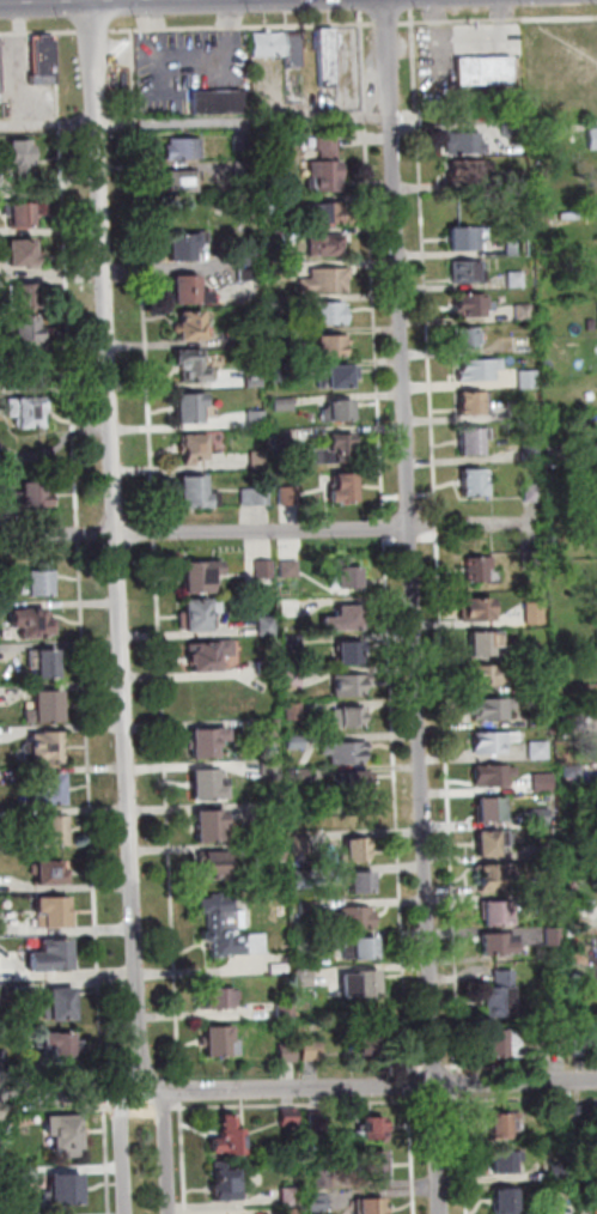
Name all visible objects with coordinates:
road: (413, 4)
road: (363, 5)
road: (497, 19)
road: (388, 23)
road: (244, 25)
road: (96, 30)
road: (39, 31)
building: (264, 43)
building: (290, 48)
building: (324, 56)
building: (45, 60)
road: (23, 62)
building: (1, 69)
building: (482, 69)
road: (136, 80)
building: (215, 99)
road: (49, 123)
building: (508, 129)
building: (544, 132)
building: (591, 138)
building: (240, 141)
building: (459, 141)
building: (325, 144)
building: (181, 148)
building: (24, 156)
building: (240, 169)
building: (470, 169)
building: (325, 174)
building: (514, 177)
building: (178, 180)
building: (270, 205)
building: (323, 211)
building: (23, 213)
building: (573, 216)
building: (270, 237)
building: (457, 237)
building: (181, 244)
building: (325, 244)
building: (517, 247)
building: (25, 251)
building: (245, 255)
road: (373, 265)
road: (426, 266)
building: (464, 269)
building: (276, 272)
building: (245, 274)
building: (513, 277)
road: (68, 278)
building: (323, 279)
building: (184, 287)
building: (24, 295)
building: (471, 304)
building: (275, 305)
building: (522, 310)
building: (327, 312)
building: (188, 326)
building: (26, 328)
road: (148, 329)
building: (251, 334)
building: (464, 336)
building: (279, 339)
building: (329, 346)
building: (188, 364)
building: (30, 369)
building: (476, 369)
building: (276, 372)
building: (336, 376)
building: (251, 377)
building: (530, 378)
building: (468, 401)
building: (280, 402)
building: (189, 406)
building: (30, 409)
building: (339, 409)
building: (254, 419)
building: (573, 420)
building: (596, 424)
building: (280, 436)
building: (468, 442)
building: (195, 448)
building: (334, 449)
building: (532, 451)
building: (553, 451)
building: (256, 461)
building: (473, 480)
building: (342, 485)
building: (194, 491)
building: (287, 493)
building: (529, 493)
building: (37, 494)
building: (252, 494)
road: (467, 524)
road: (386, 527)
road: (206, 532)
road: (80, 533)
road: (158, 533)
road: (117, 546)
building: (530, 558)
building: (266, 567)
building: (292, 567)
building: (476, 567)
building: (345, 573)
building: (196, 576)
building: (41, 579)
building: (290, 606)
road: (415, 607)
building: (477, 607)
building: (531, 611)
building: (194, 613)
building: (341, 618)
building: (35, 621)
building: (269, 625)
building: (294, 641)
building: (485, 643)
building: (526, 648)
building: (347, 651)
building: (207, 652)
building: (47, 662)
building: (270, 667)
building: (488, 674)
building: (294, 678)
building: (537, 682)
building: (347, 684)
building: (587, 691)
building: (48, 705)
building: (488, 706)
building: (296, 710)
building: (349, 716)
building: (537, 720)
building: (272, 727)
building: (207, 741)
building: (488, 741)
building: (298, 742)
building: (47, 747)
building: (343, 749)
building: (541, 749)
building: (272, 770)
building: (574, 770)
building: (489, 773)
building: (301, 775)
building: (355, 779)
building: (546, 782)
building: (208, 784)
building: (53, 789)
road: (451, 796)
road: (400, 805)
building: (491, 805)
road: (170, 809)
road: (95, 814)
building: (537, 815)
building: (275, 818)
building: (211, 825)
building: (54, 830)
building: (239, 831)
building: (491, 840)
building: (301, 843)
building: (353, 848)
building: (278, 851)
building: (219, 864)
building: (51, 872)
building: (492, 874)
building: (304, 879)
building: (358, 880)
building: (310, 906)
building: (497, 910)
building: (55, 911)
building: (284, 912)
building: (354, 913)
building: (1, 925)
building: (230, 927)
building: (494, 941)
building: (306, 945)
building: (354, 945)
building: (54, 955)
building: (1, 966)
building: (281, 967)
road: (200, 970)
building: (307, 977)
building: (358, 982)
building: (498, 990)
building: (2, 993)
building: (218, 998)
building: (65, 1003)
building: (287, 1009)
building: (220, 1039)
building: (364, 1039)
building: (498, 1042)
building: (61, 1044)
building: (313, 1049)
building: (288, 1054)
building: (4, 1058)
road: (456, 1066)
road: (437, 1067)
road: (419, 1068)
road: (297, 1088)
road: (182, 1091)
road: (108, 1097)
road: (529, 1099)
road: (298, 1104)
building: (584, 1112)
building: (561, 1113)
building: (290, 1117)
building: (319, 1121)
building: (502, 1122)
building: (372, 1125)
building: (227, 1129)
building: (6, 1133)
building: (68, 1133)
road: (463, 1141)
road: (414, 1145)
building: (590, 1146)
road: (169, 1152)
road: (126, 1154)
road: (185, 1158)
road: (110, 1159)
building: (504, 1159)
building: (373, 1161)
building: (561, 1170)
building: (19, 1174)
building: (590, 1177)
building: (323, 1178)
building: (223, 1182)
building: (68, 1189)
building: (292, 1196)
building: (506, 1198)
building: (319, 1202)
building: (370, 1203)
building: (567, 1209)
building: (292, 1212)

